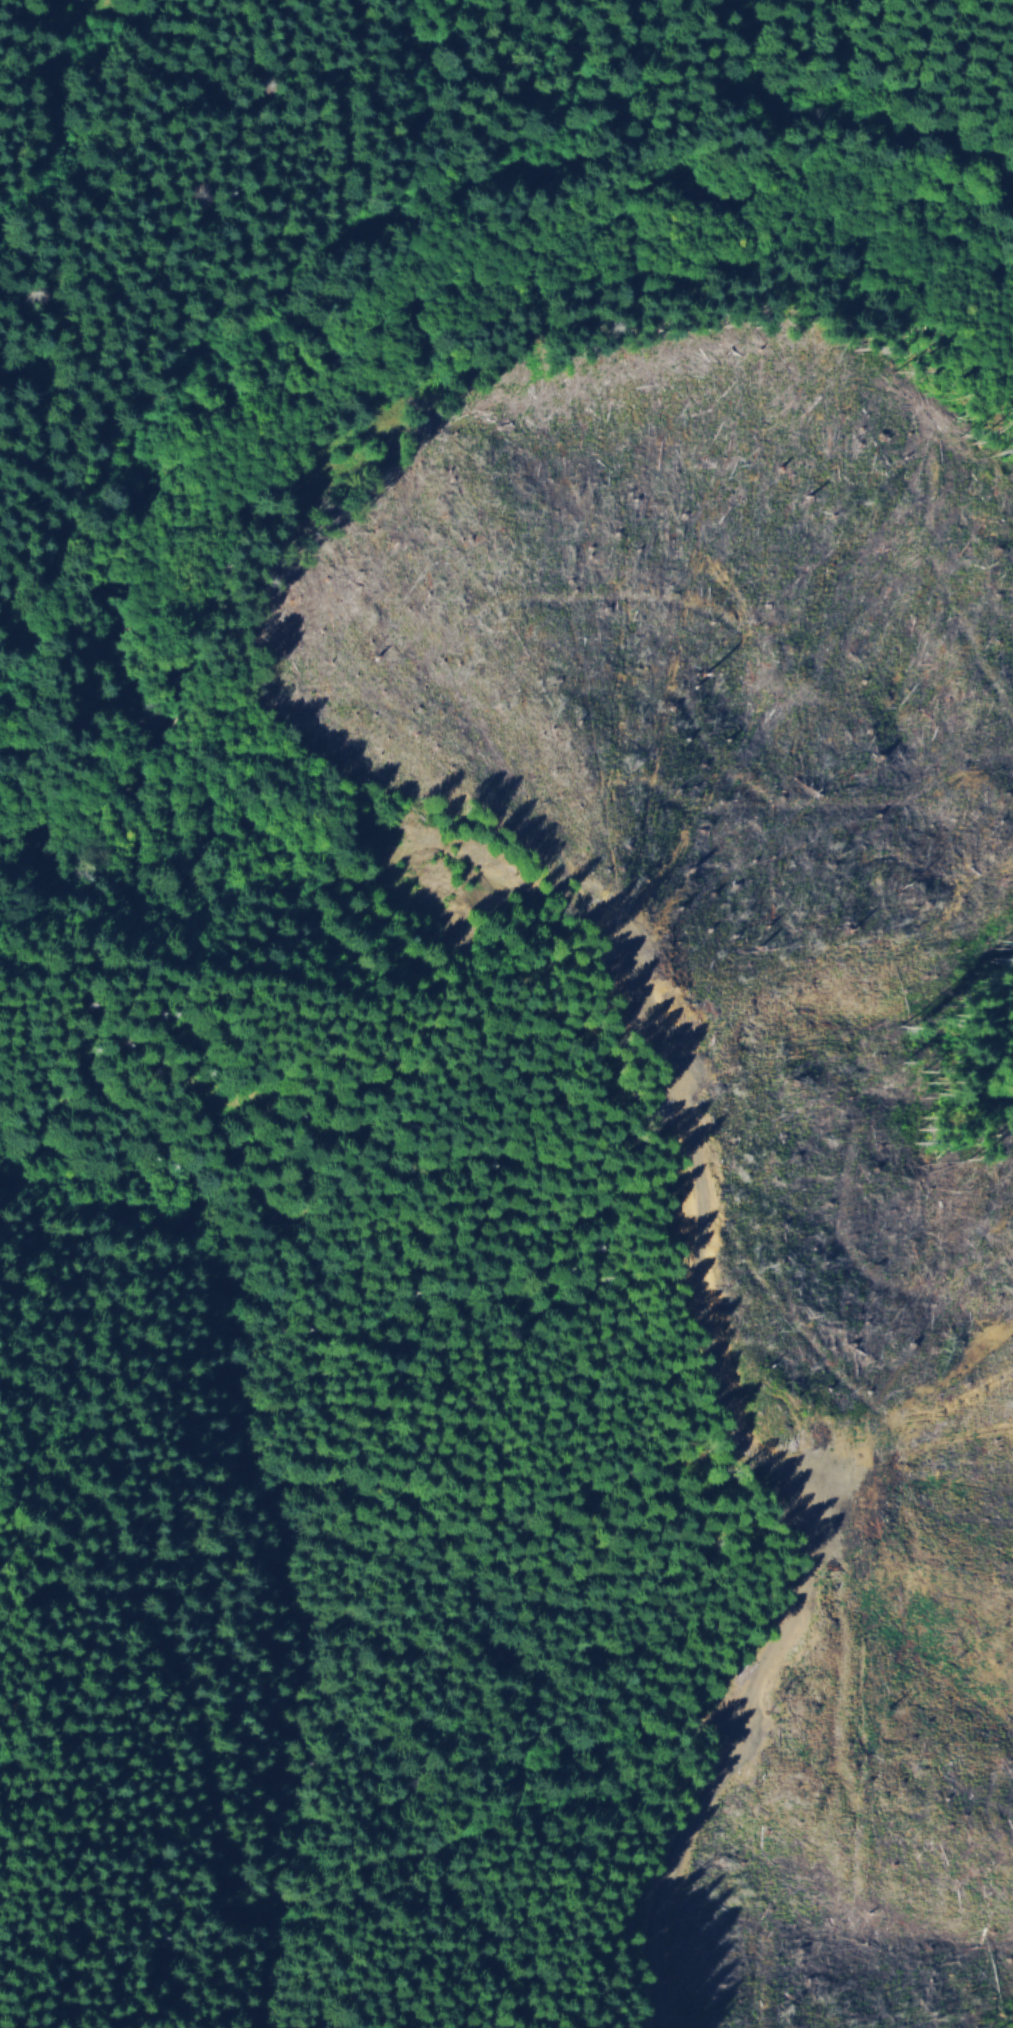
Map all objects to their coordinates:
road: (980, 143)
road: (367, 201)
river: (367, 337)

